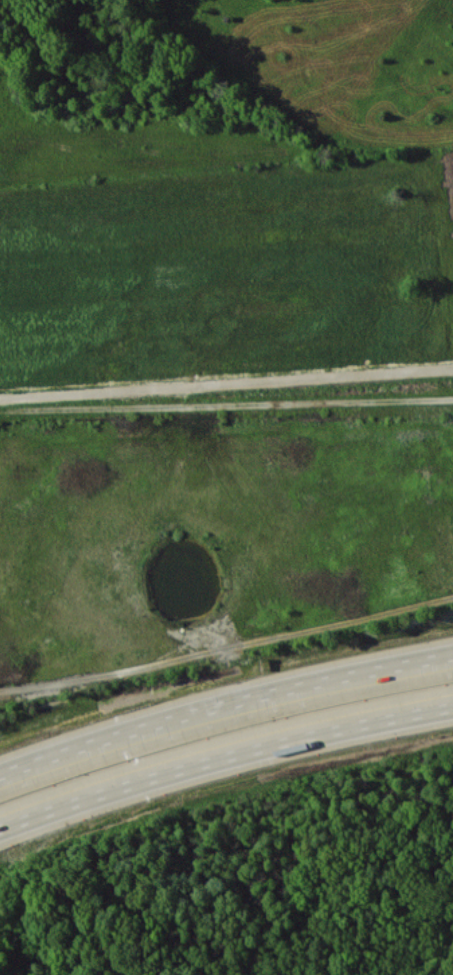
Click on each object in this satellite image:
road: (224, 705)
road: (223, 759)

